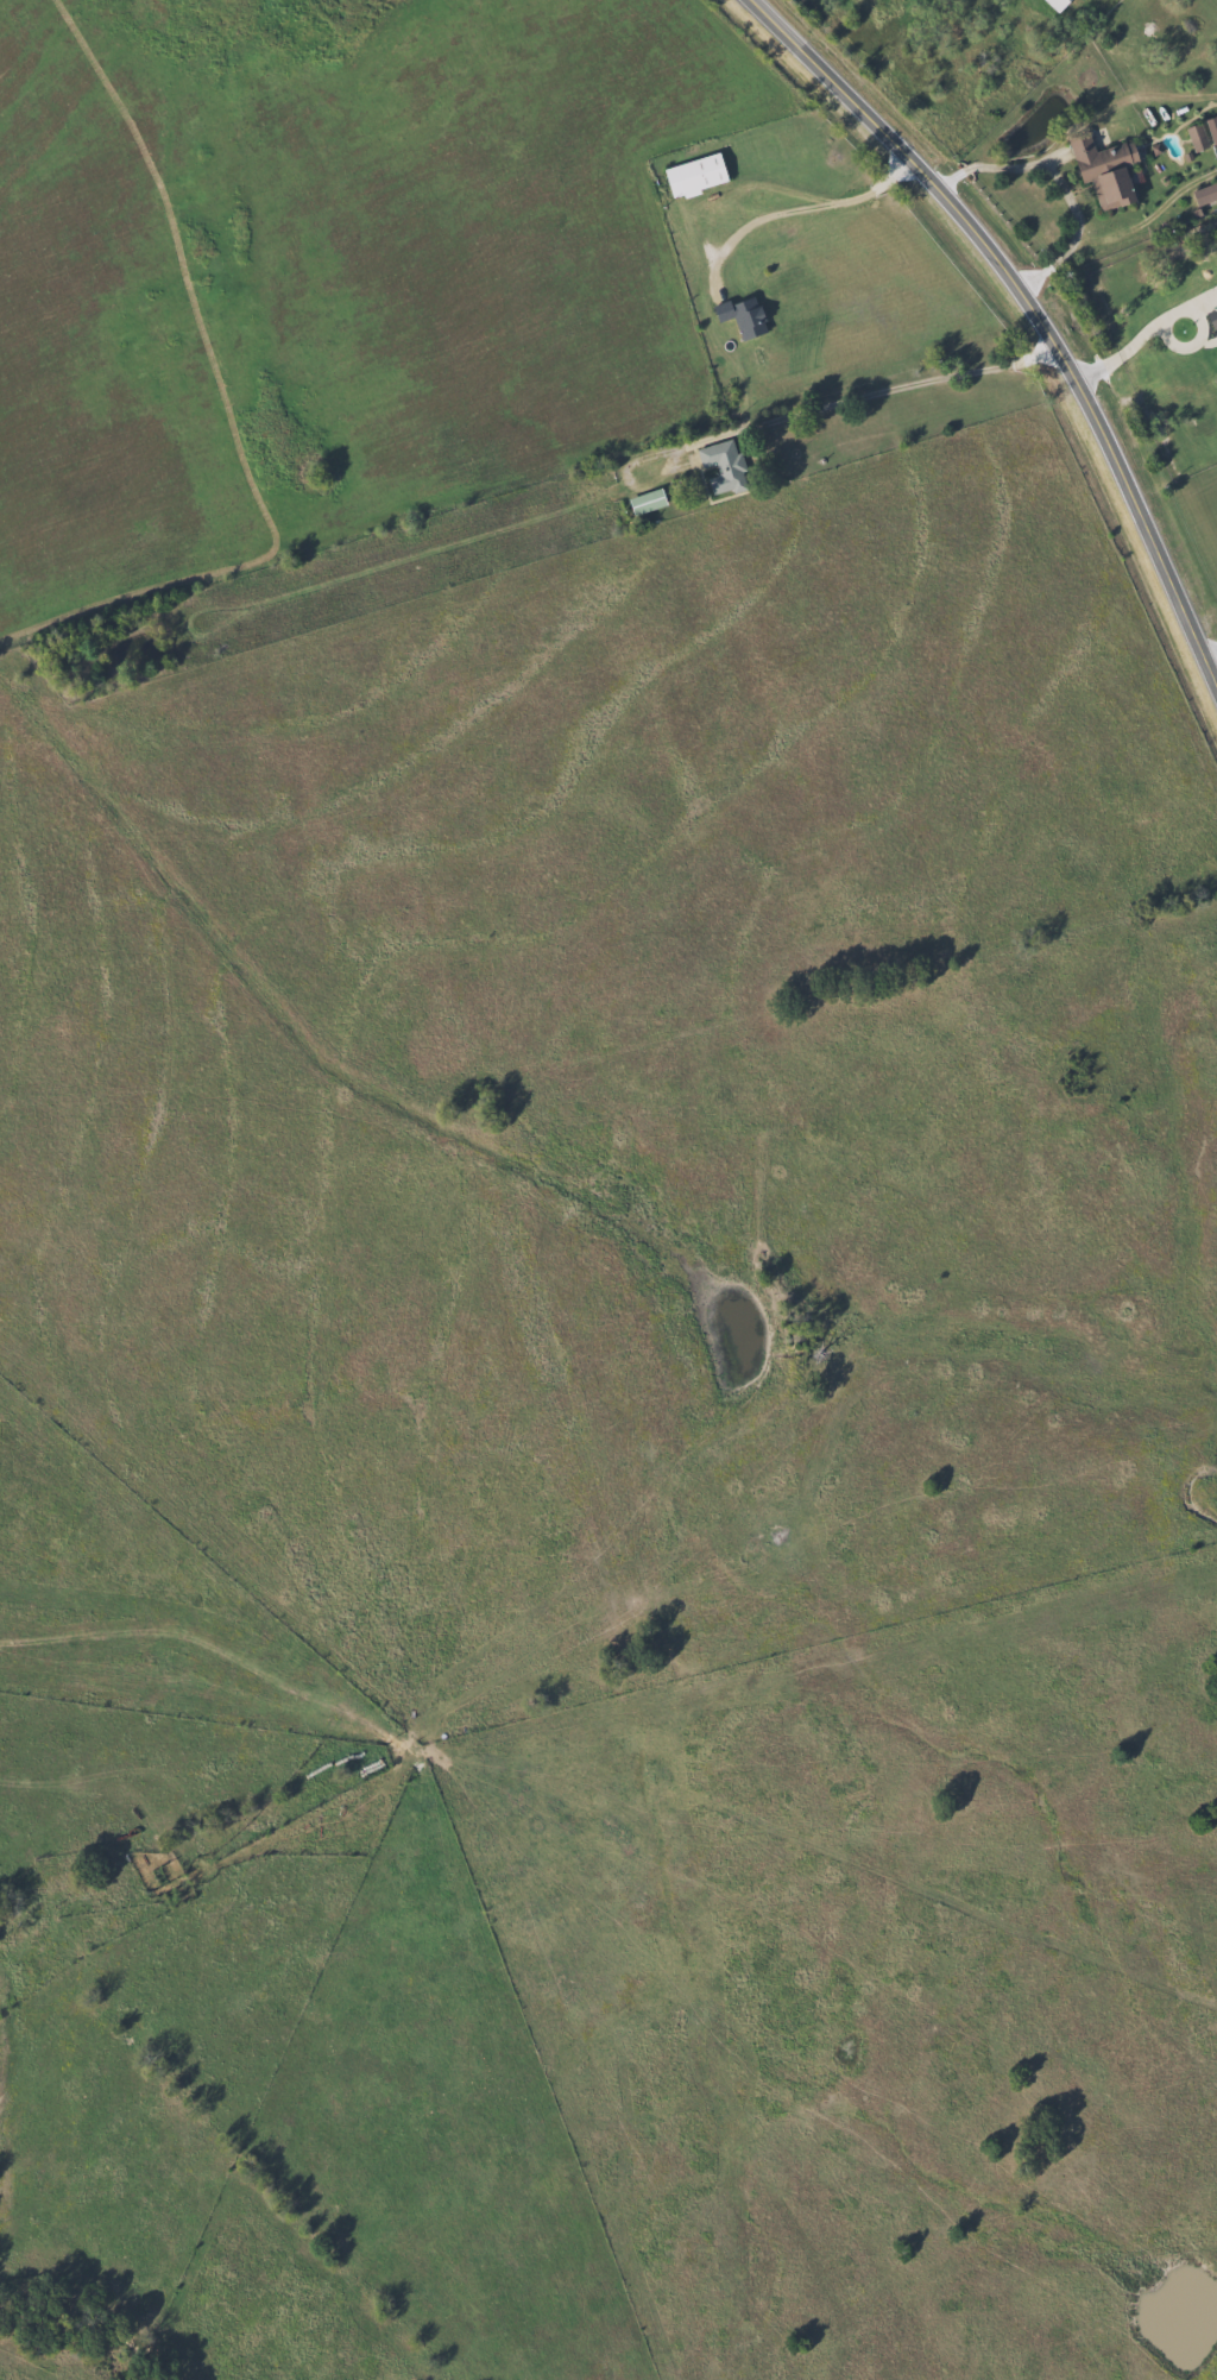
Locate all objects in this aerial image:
building: (1053, 5)
building: (1194, 137)
building: (1102, 170)
building: (693, 176)
road: (1061, 182)
road: (782, 194)
road: (800, 210)
road: (1032, 311)
road: (1202, 319)
road: (1124, 353)
road: (863, 393)
building: (721, 466)
building: (644, 500)
road: (1210, 649)

